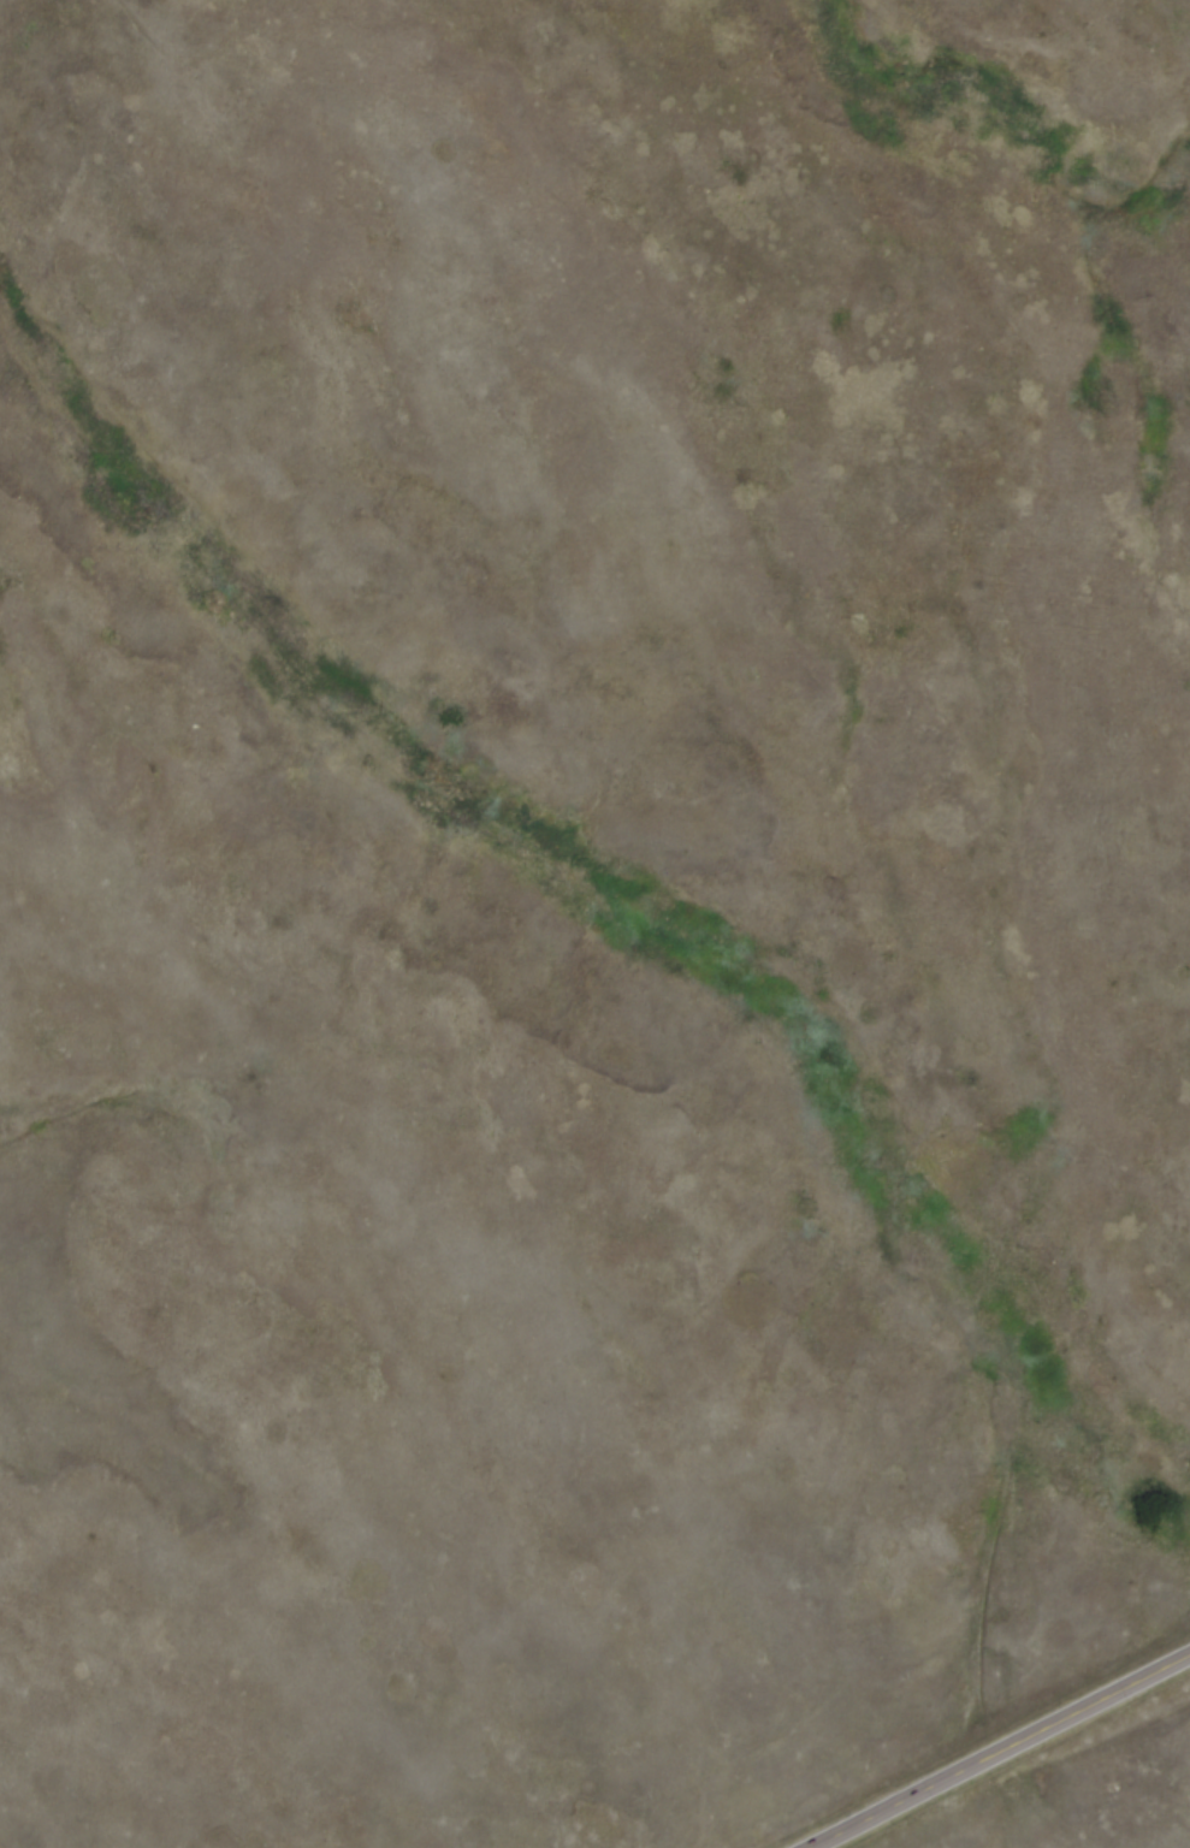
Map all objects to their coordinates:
road: (997, 1751)

